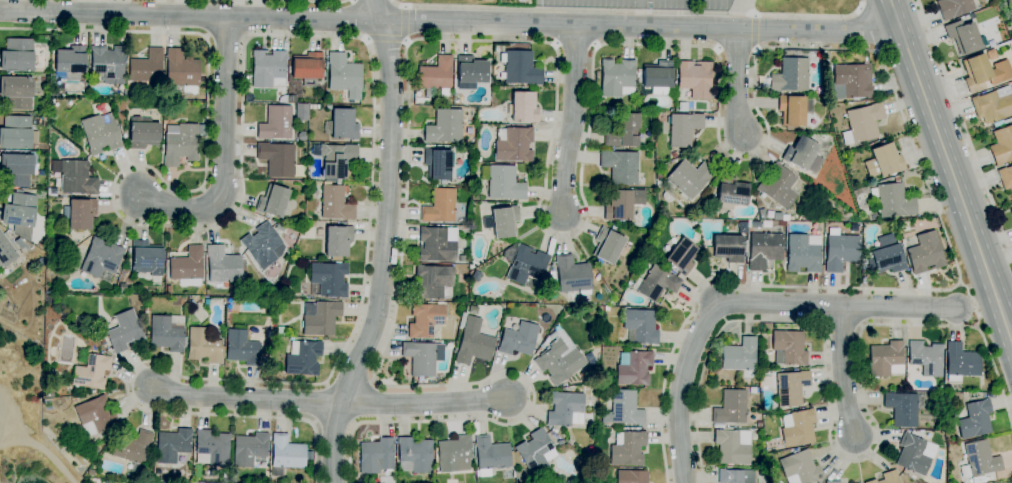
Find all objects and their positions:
road: (303, 1)
building: (1011, 1)
park: (463, 4)
building: (953, 7)
road: (377, 10)
road: (630, 11)
road: (190, 17)
road: (404, 23)
road: (641, 29)
road: (755, 31)
road: (322, 37)
building: (962, 37)
road: (384, 40)
building: (17, 55)
building: (70, 62)
building: (107, 64)
building: (146, 66)
building: (307, 68)
building: (519, 68)
building: (268, 69)
building: (181, 71)
building: (470, 71)
building: (983, 73)
building: (344, 75)
building: (789, 75)
building: (435, 76)
building: (657, 76)
building: (616, 77)
building: (693, 80)
building: (851, 82)
road: (737, 83)
building: (16, 92)
building: (993, 104)
building: (314, 107)
building: (522, 107)
building: (793, 109)
building: (301, 111)
road: (590, 111)
building: (1001, 122)
building: (275, 123)
road: (572, 123)
building: (862, 123)
building: (343, 125)
building: (443, 127)
building: (683, 128)
road: (964, 129)
building: (624, 130)
building: (15, 133)
building: (101, 134)
building: (142, 135)
building: (513, 144)
building: (180, 145)
building: (1001, 145)
road: (224, 148)
building: (802, 155)
building: (276, 158)
building: (334, 159)
building: (883, 162)
building: (437, 163)
building: (619, 166)
building: (16, 169)
road: (950, 170)
building: (77, 178)
building: (688, 178)
building: (1006, 178)
building: (501, 182)
building: (777, 186)
building: (731, 191)
building: (892, 200)
building: (272, 201)
building: (334, 202)
building: (617, 205)
building: (439, 206)
building: (1011, 209)
building: (19, 210)
building: (79, 213)
building: (504, 222)
building: (741, 227)
building: (279, 228)
building: (337, 241)
building: (437, 244)
building: (262, 245)
building: (607, 245)
building: (727, 248)
building: (763, 250)
building: (840, 250)
building: (6, 252)
building: (802, 253)
building: (924, 253)
road: (383, 255)
building: (681, 256)
building: (887, 257)
building: (49, 258)
building: (100, 258)
building: (146, 258)
building: (187, 265)
building: (222, 265)
building: (523, 265)
building: (60, 270)
building: (572, 275)
building: (327, 279)
building: (432, 282)
building: (655, 283)
building: (50, 286)
building: (122, 288)
building: (168, 288)
road: (972, 301)
building: (191, 303)
road: (742, 303)
building: (320, 318)
building: (424, 319)
building: (461, 319)
building: (639, 326)
building: (280, 331)
building: (124, 332)
building: (167, 333)
building: (518, 339)
building: (472, 343)
building: (203, 346)
building: (241, 348)
building: (788, 348)
building: (422, 357)
building: (740, 357)
building: (925, 357)
building: (302, 358)
building: (559, 358)
building: (885, 359)
building: (960, 362)
building: (632, 368)
building: (91, 372)
road: (843, 372)
building: (790, 387)
building: (48, 393)
road: (246, 399)
road: (425, 404)
building: (730, 407)
building: (901, 408)
building: (565, 409)
building: (623, 409)
building: (95, 416)
building: (975, 419)
road: (5, 428)
building: (474, 428)
building: (797, 428)
building: (172, 445)
building: (212, 446)
building: (732, 446)
road: (44, 448)
building: (133, 449)
building: (249, 449)
building: (627, 449)
building: (535, 451)
building: (454, 454)
building: (914, 454)
building: (285, 455)
building: (414, 455)
building: (491, 455)
road: (837, 455)
building: (375, 456)
building: (979, 459)
building: (799, 468)
building: (631, 476)
building: (735, 476)
building: (886, 478)
building: (832, 482)

